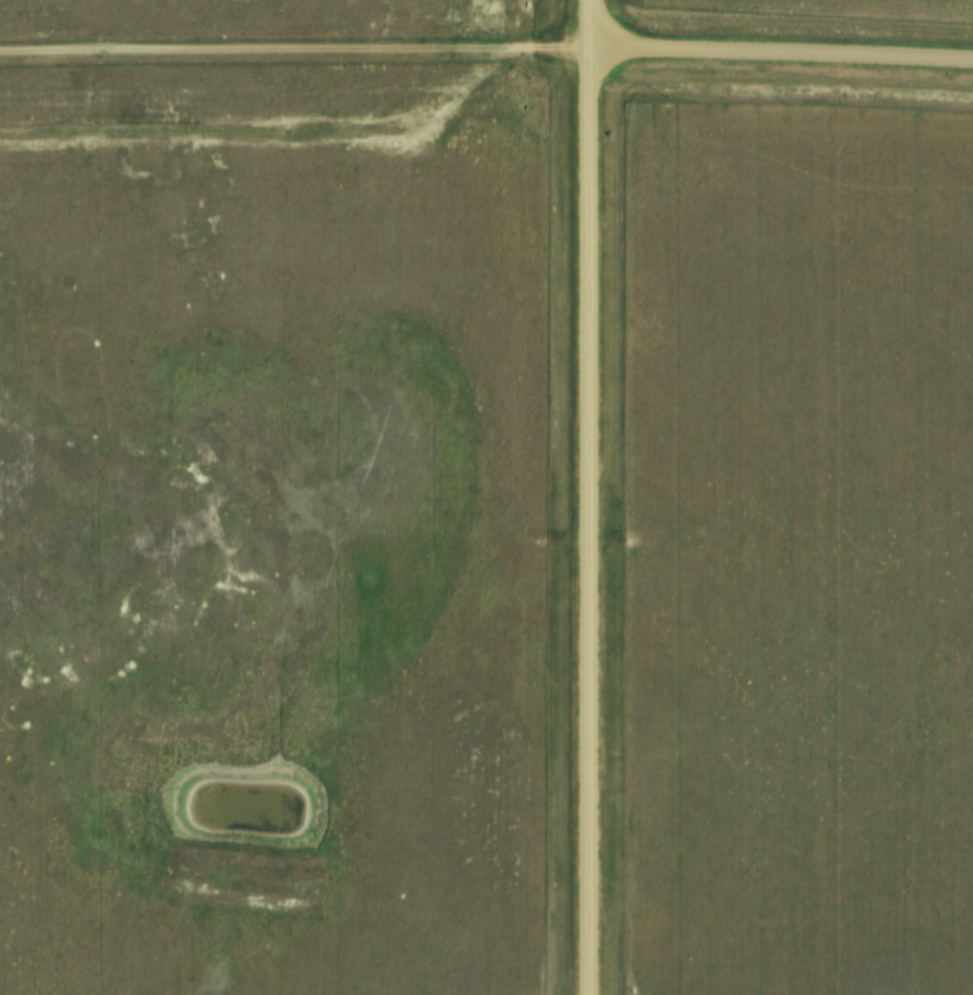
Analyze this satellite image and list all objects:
road: (295, 49)
road: (782, 53)
road: (588, 497)

